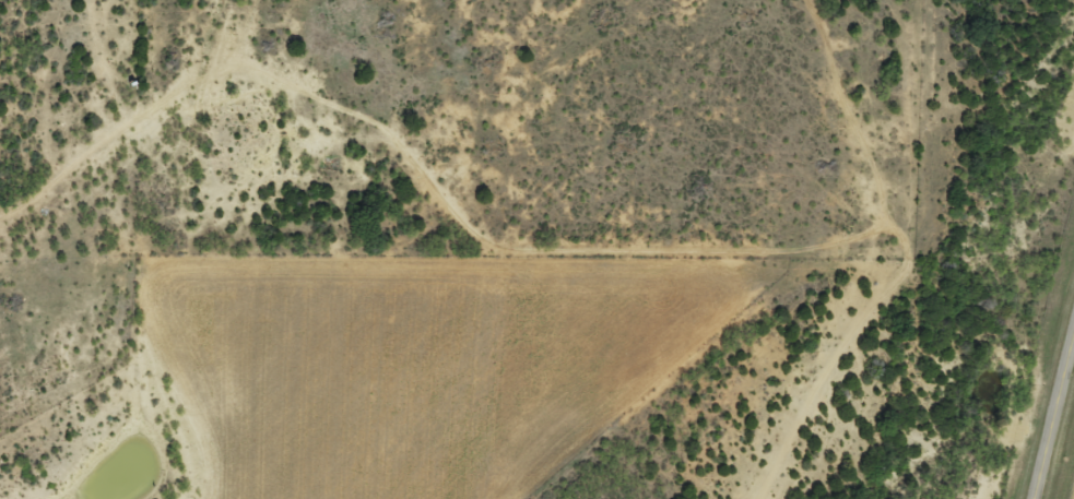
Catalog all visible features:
road: (1055, 421)

